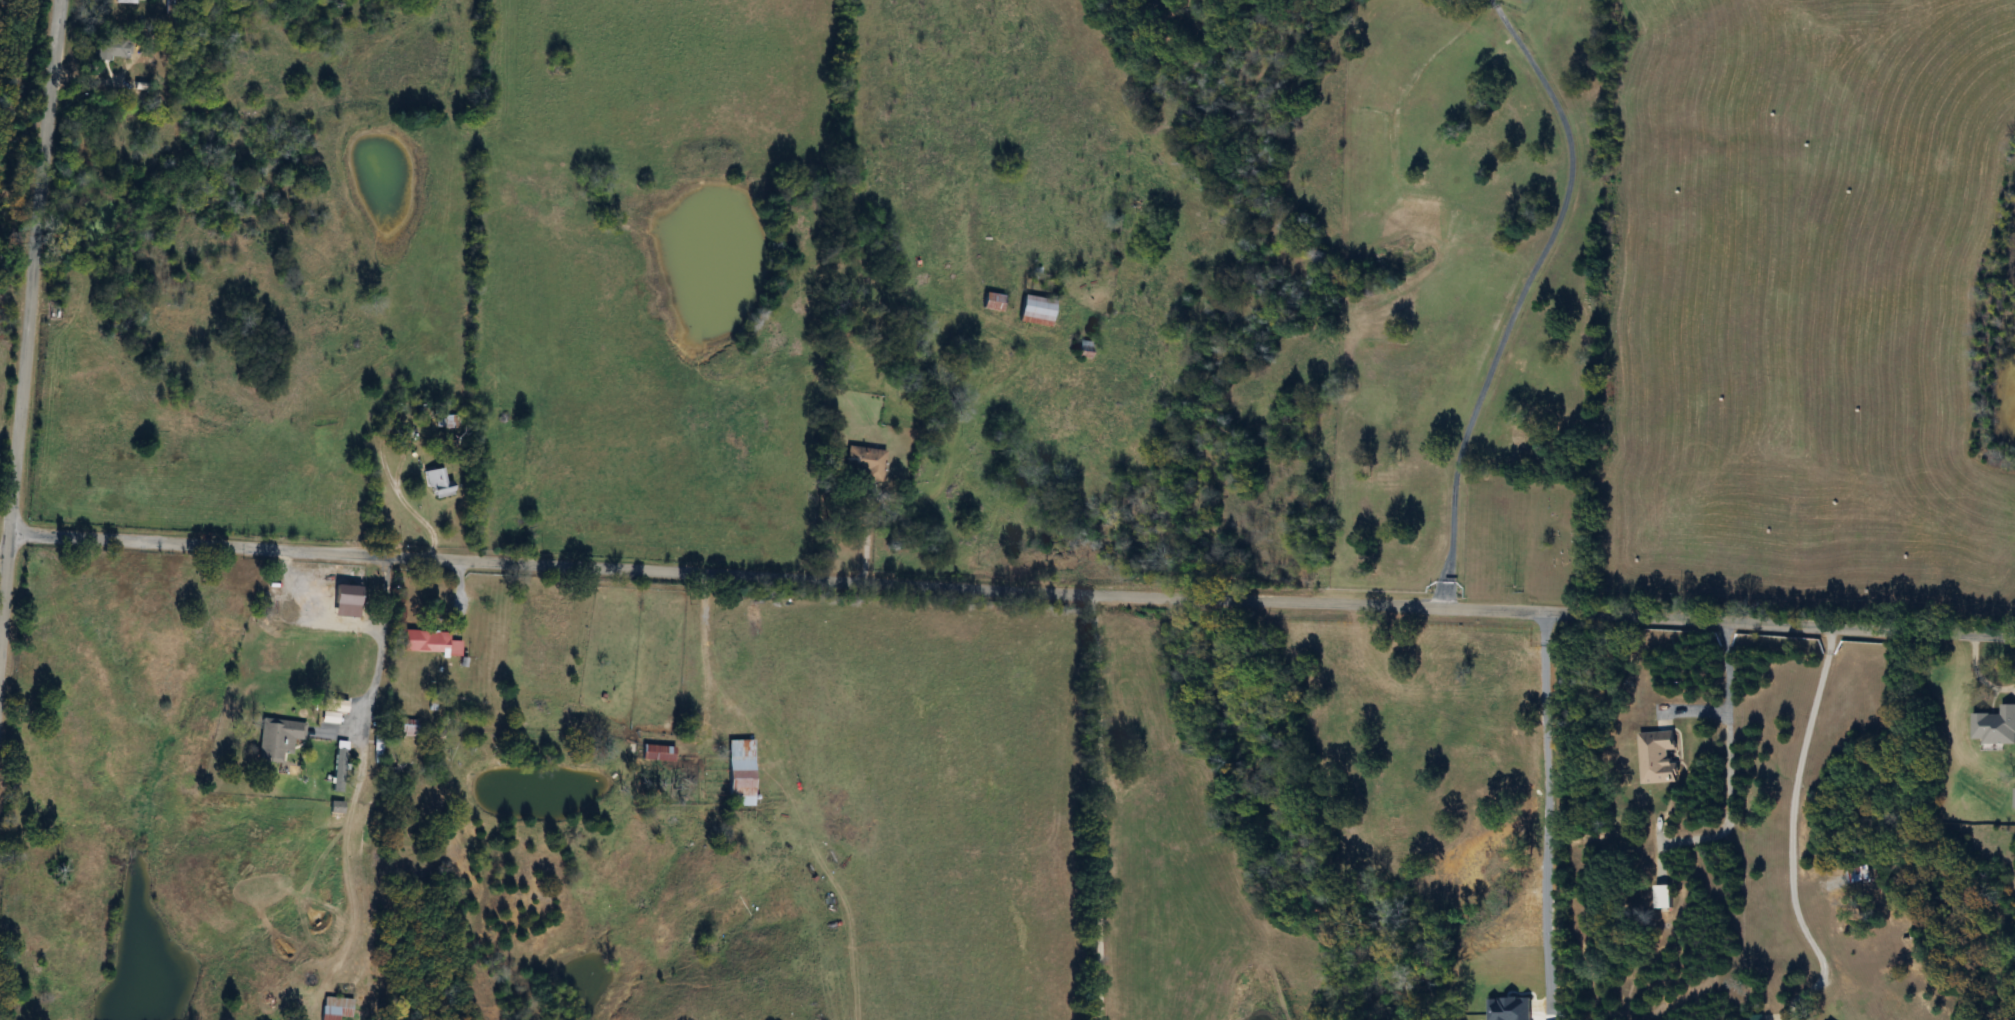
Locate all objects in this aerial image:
building: (120, 1)
building: (108, 48)
road: (1516, 304)
building: (1035, 311)
road: (27, 337)
building: (864, 464)
building: (438, 484)
road: (865, 530)
park: (1521, 537)
road: (1013, 586)
building: (345, 615)
road: (380, 642)
building: (428, 643)
building: (331, 711)
building: (1994, 726)
building: (408, 728)
building: (276, 740)
building: (656, 754)
building: (1656, 757)
road: (1726, 757)
building: (739, 783)
building: (2013, 798)
road: (914, 801)
road: (1546, 812)
road: (1792, 838)
building: (1661, 897)
building: (335, 1009)

